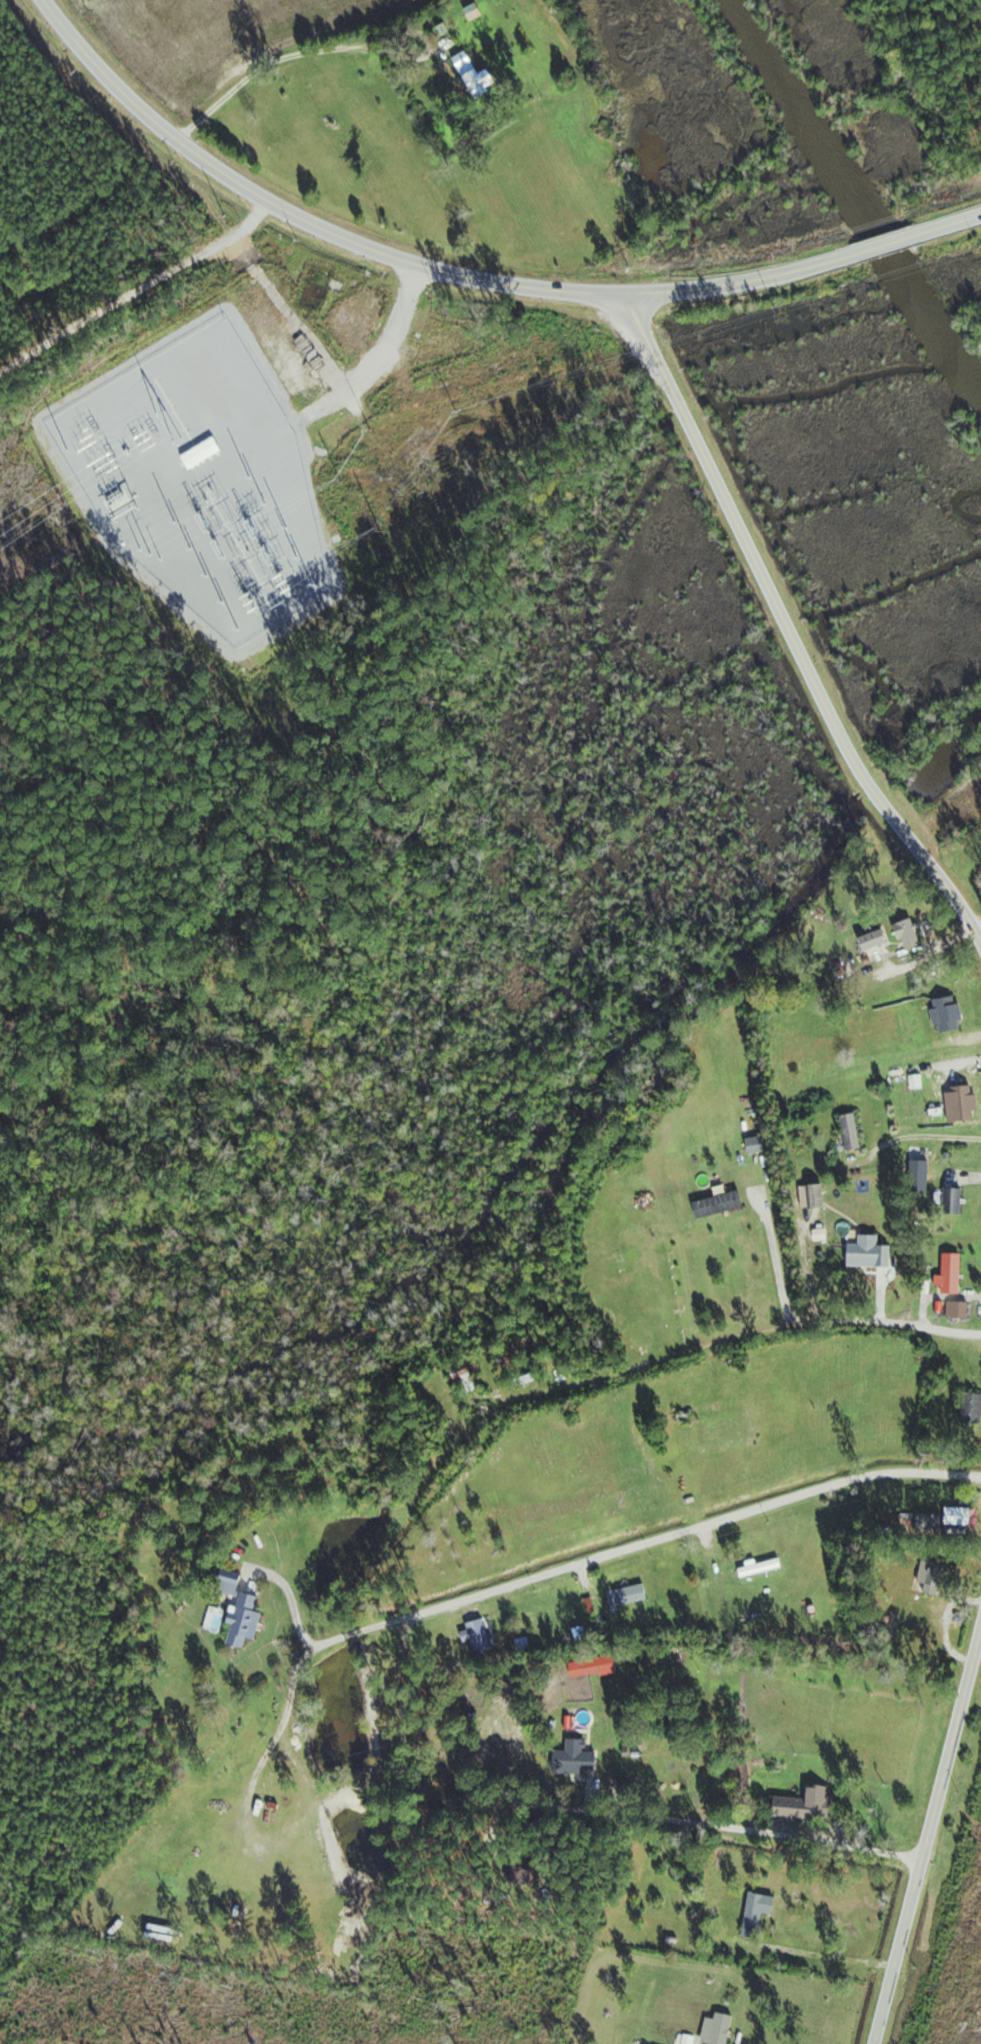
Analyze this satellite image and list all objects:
building: (476, 12)
road: (331, 74)
building: (480, 77)
road: (301, 218)
road: (949, 225)
road: (888, 244)
road: (117, 253)
road: (745, 282)
road: (380, 364)
building: (203, 451)
power substation: (205, 484)
road: (787, 633)
building: (869, 941)
building: (959, 1101)
building: (847, 1132)
building: (917, 1177)
building: (809, 1197)
building: (950, 1202)
building: (715, 1205)
building: (865, 1254)
building: (948, 1274)
building: (954, 1311)
building: (532, 1345)
road: (719, 1350)
building: (468, 1375)
building: (969, 1412)
building: (959, 1518)
road: (641, 1547)
building: (758, 1569)
building: (926, 1577)
building: (634, 1594)
building: (249, 1619)
building: (483, 1636)
building: (603, 1665)
road: (953, 1750)
building: (584, 1756)
building: (808, 1804)
road: (543, 1812)
building: (530, 1871)
building: (219, 1897)
building: (761, 1912)
road: (900, 1950)
building: (721, 2029)
building: (692, 2039)

